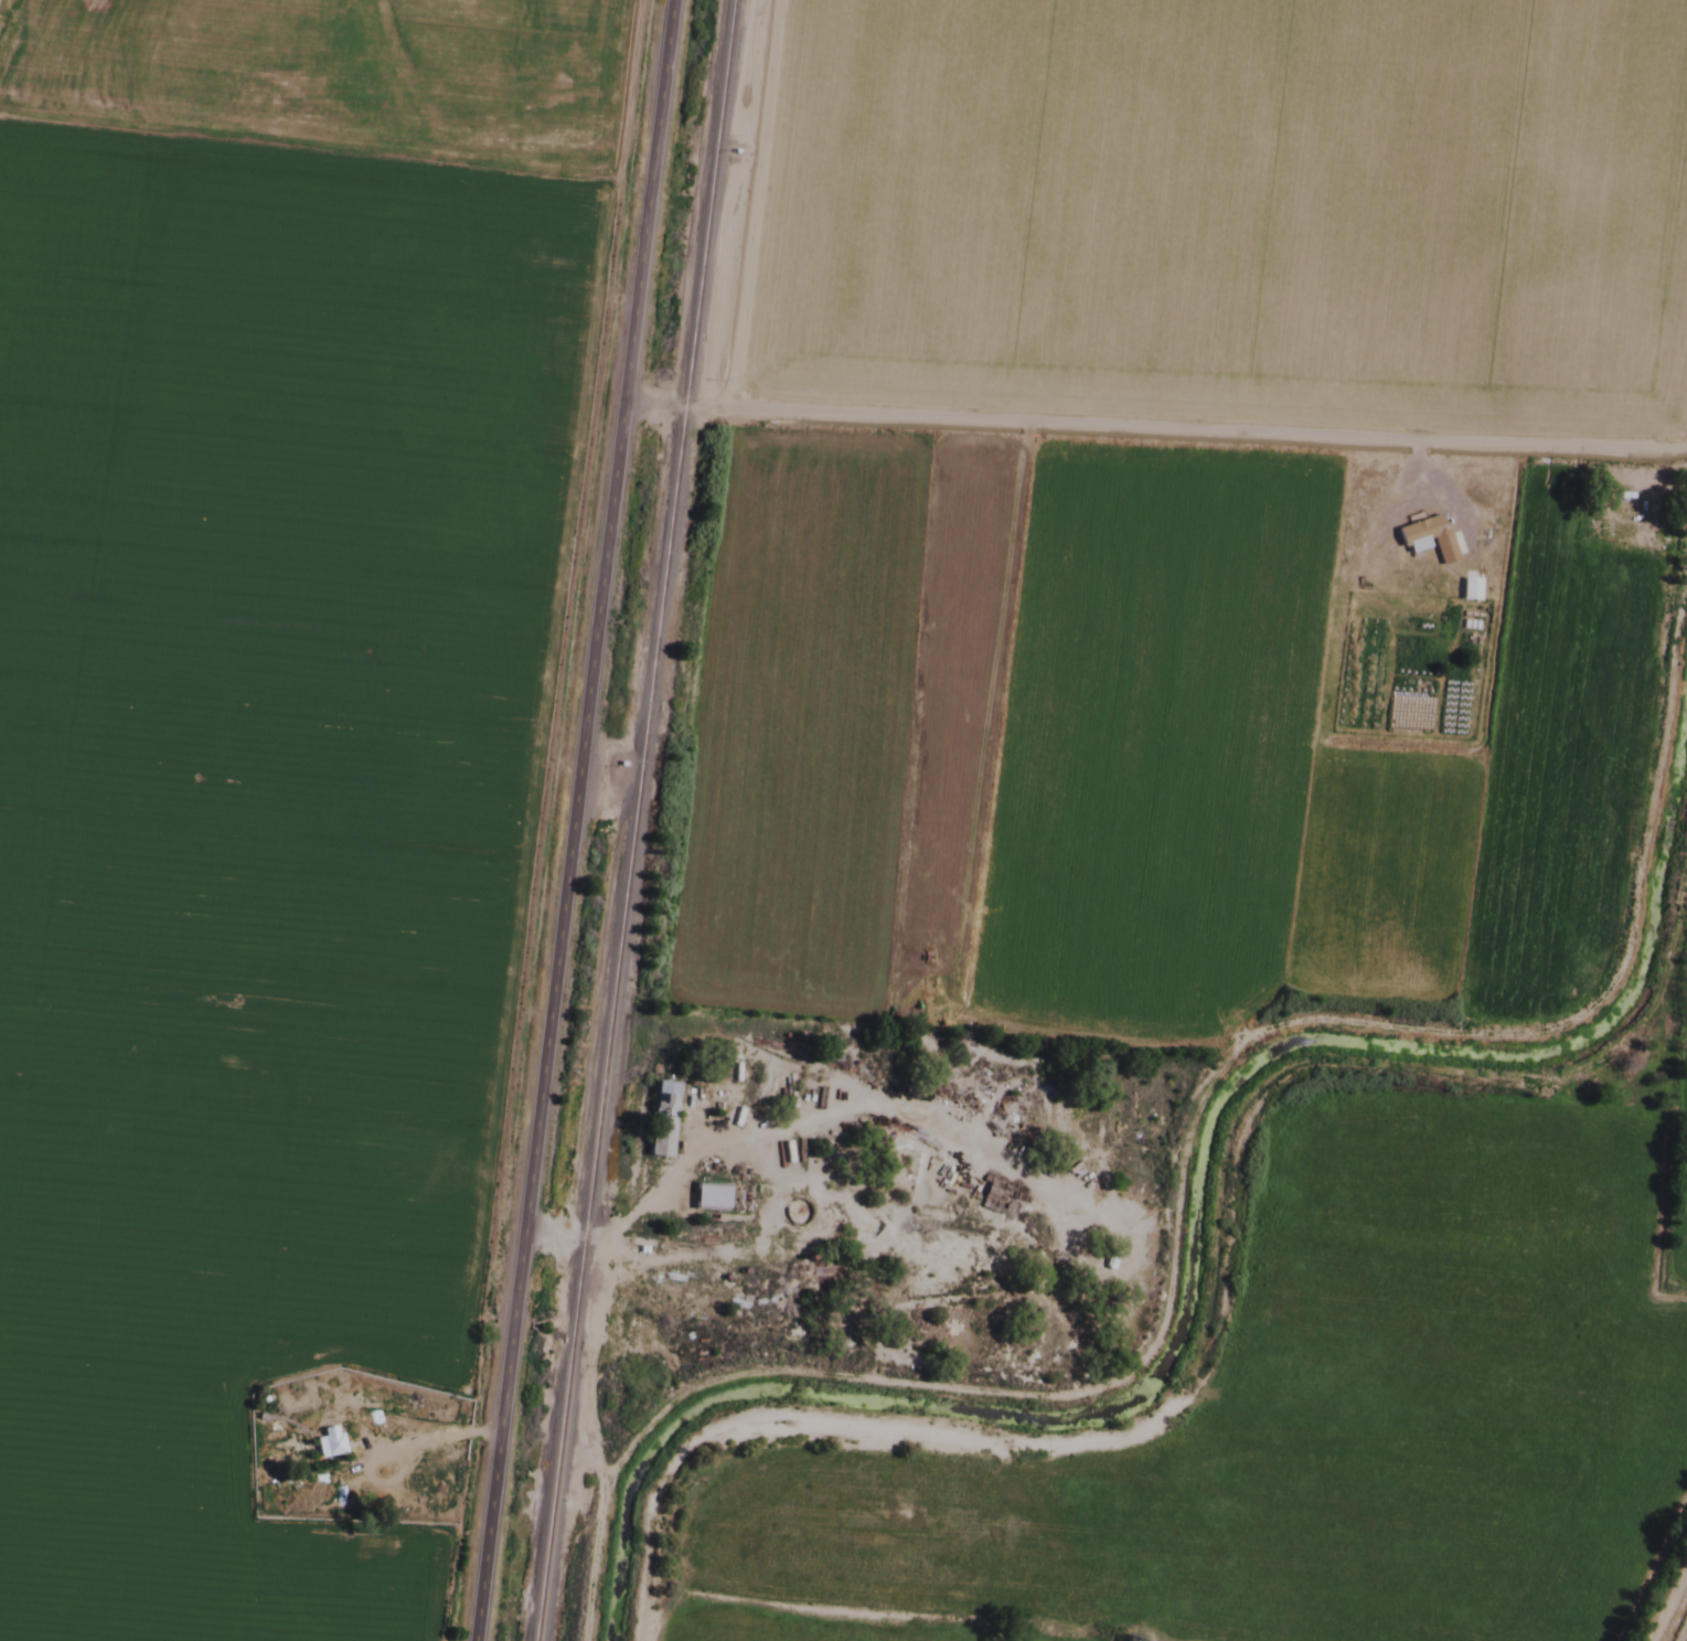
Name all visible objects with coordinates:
road: (1154, 415)
building: (1428, 537)
building: (1467, 589)
road: (570, 820)
railway: (631, 820)
building: (660, 1120)
building: (708, 1197)
building: (328, 1442)
road: (1663, 1590)

